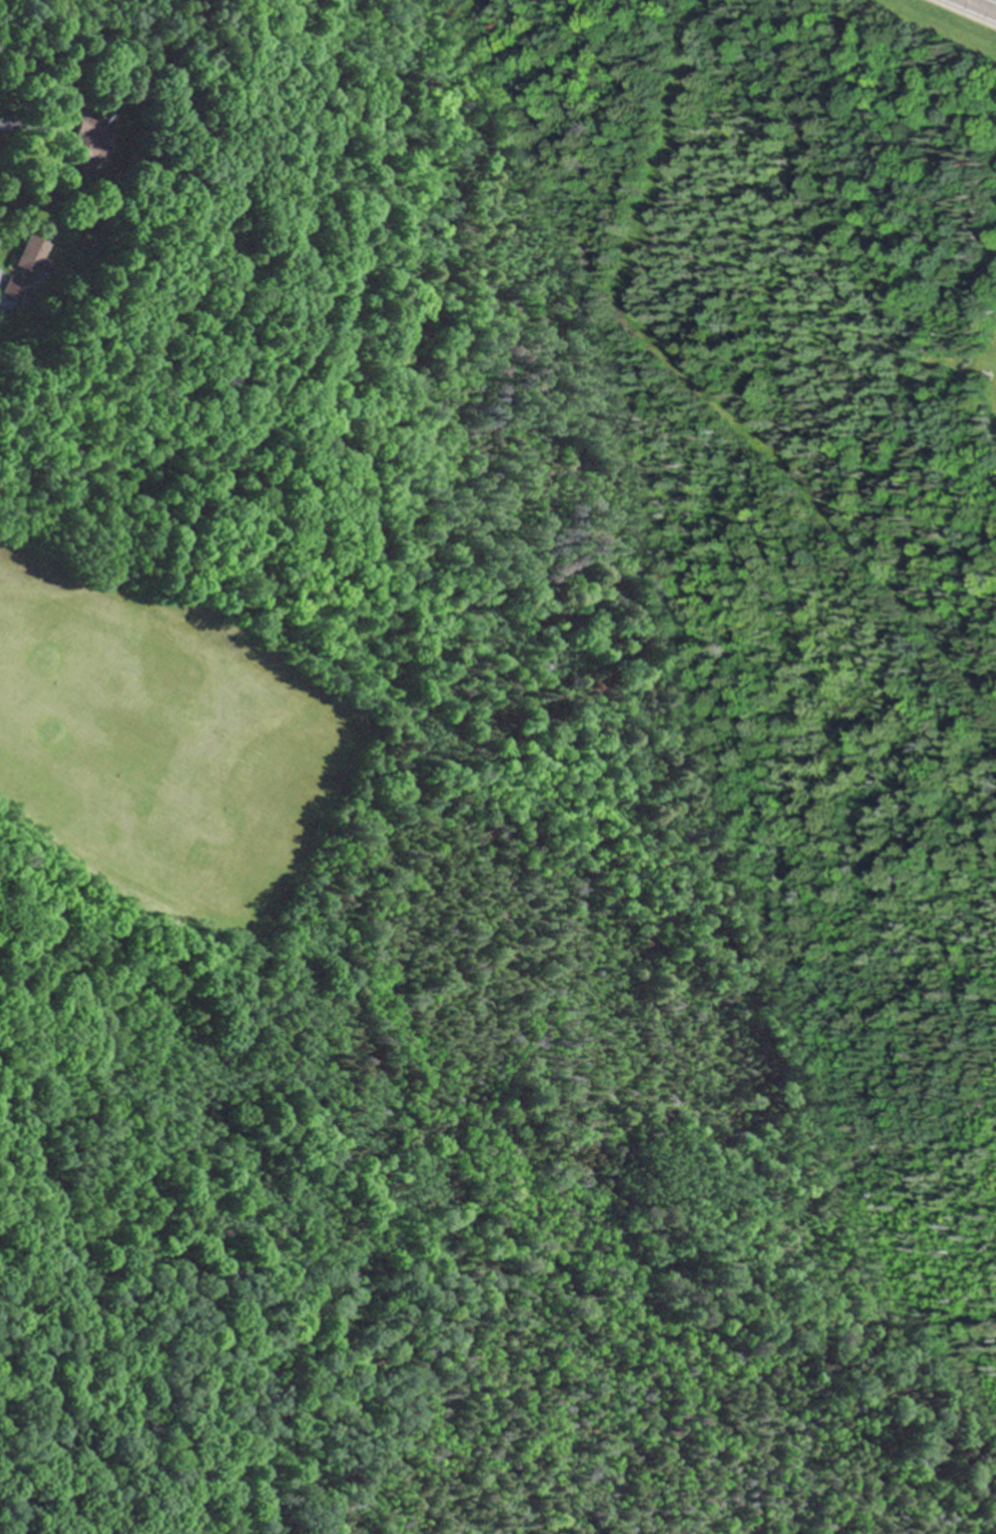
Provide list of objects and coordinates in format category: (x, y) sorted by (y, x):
road: (981, 6)
building: (89, 140)
building: (25, 254)
park: (305, 793)

